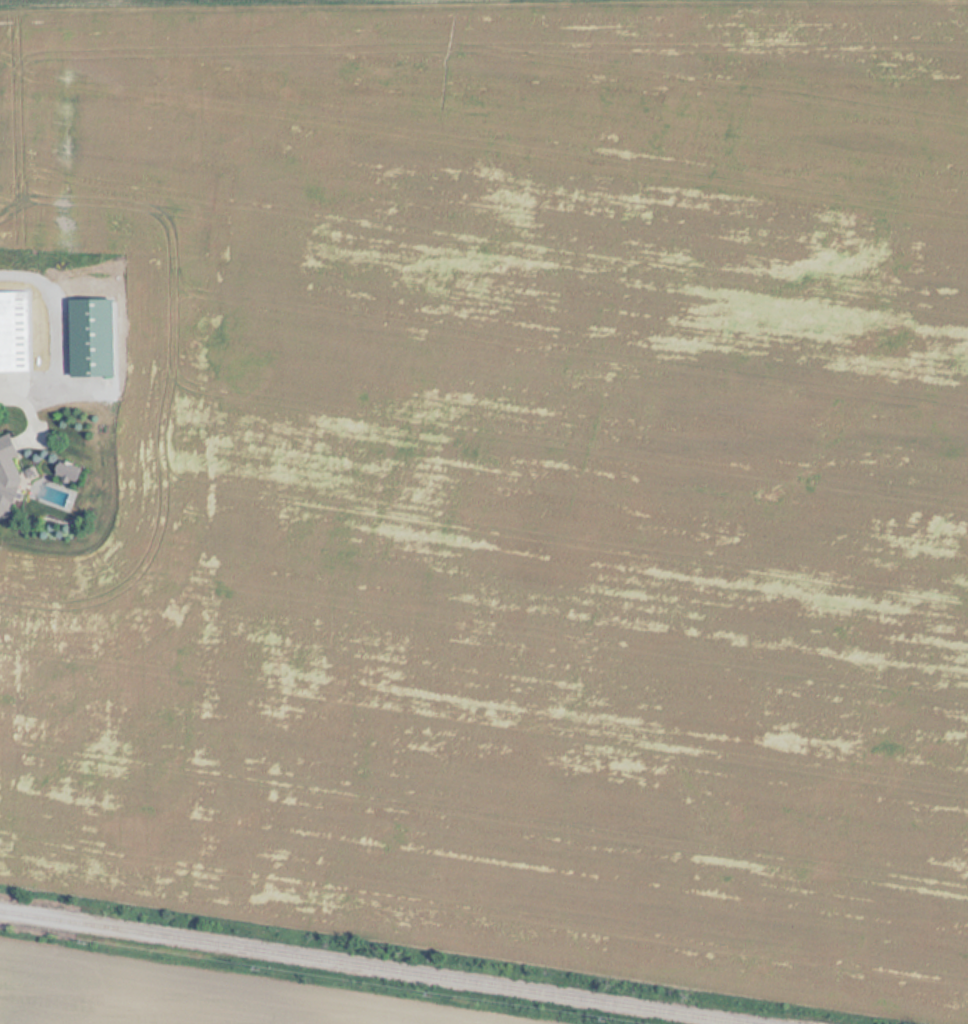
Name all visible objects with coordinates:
building: (13, 331)
building: (89, 337)
building: (6, 475)
railway: (364, 968)

